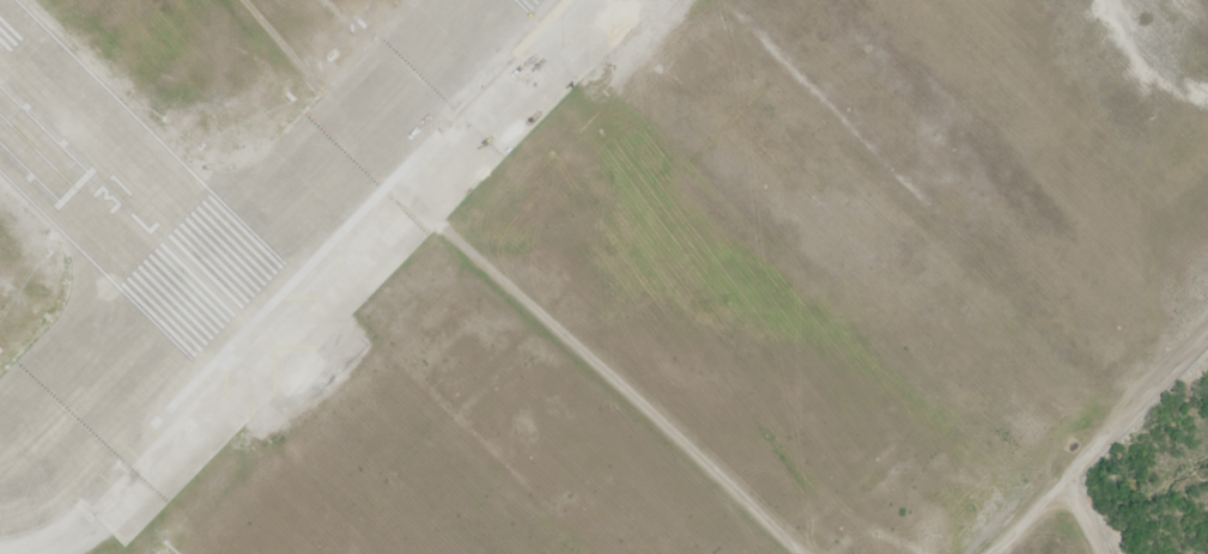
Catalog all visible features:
airport taxiway: (350, 142)
airport runway: (120, 195)
airport: (242, 208)
airport taxiway: (103, 373)
road: (1103, 445)

